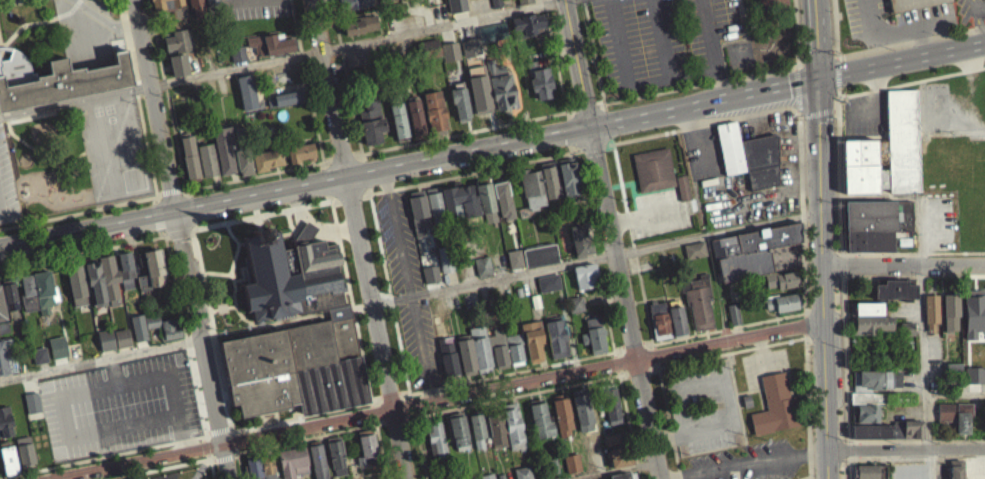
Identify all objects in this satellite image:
building: (233, 1)
building: (524, 1)
road: (78, 2)
building: (212, 2)
building: (352, 3)
building: (497, 3)
building: (772, 3)
building: (908, 3)
building: (982, 3)
road: (983, 3)
road: (21, 4)
road: (978, 5)
building: (171, 7)
building: (197, 7)
parking lot: (970, 11)
road: (67, 16)
parking lot: (893, 18)
road: (921, 22)
road: (979, 22)
road: (97, 23)
building: (361, 23)
building: (526, 24)
road: (440, 25)
road: (882, 29)
road: (23, 30)
building: (493, 30)
building: (358, 32)
road: (663, 38)
building: (492, 39)
parking lot: (663, 39)
building: (176, 40)
road: (818, 40)
building: (270, 43)
road: (125, 45)
road: (884, 45)
building: (430, 47)
road: (713, 50)
road: (593, 51)
building: (237, 52)
building: (268, 52)
building: (426, 56)
road: (837, 56)
building: (449, 58)
road: (556, 58)
building: (236, 61)
road: (901, 62)
building: (179, 63)
road: (578, 64)
road: (795, 66)
road: (234, 71)
road: (837, 71)
building: (177, 72)
road: (732, 77)
building: (540, 79)
road: (308, 80)
road: (911, 80)
traffic signals: (819, 82)
building: (500, 84)
road: (629, 84)
building: (55, 86)
road: (797, 88)
road: (134, 95)
road: (163, 95)
building: (477, 95)
building: (285, 97)
building: (461, 100)
road: (601, 103)
road: (705, 104)
parking lot: (935, 105)
building: (283, 106)
road: (605, 106)
road: (73, 107)
road: (586, 107)
road: (835, 107)
building: (435, 109)
road: (798, 110)
road: (78, 112)
road: (818, 112)
road: (567, 113)
parking lot: (863, 113)
building: (399, 114)
road: (802, 116)
building: (417, 117)
road: (39, 121)
building: (373, 121)
road: (608, 122)
road: (4, 124)
building: (397, 127)
traffic signals: (592, 129)
road: (570, 130)
road: (612, 139)
road: (609, 144)
building: (730, 146)
building: (225, 147)
road: (388, 147)
road: (573, 147)
road: (593, 147)
building: (243, 149)
building: (886, 149)
road: (578, 150)
building: (300, 151)
road: (29, 153)
road: (357, 154)
building: (189, 155)
road: (362, 156)
building: (267, 157)
building: (208, 158)
road: (341, 158)
building: (761, 159)
building: (299, 160)
road: (327, 161)
road: (324, 164)
road: (74, 165)
building: (265, 167)
building: (654, 168)
building: (242, 169)
road: (471, 171)
road: (365, 172)
road: (255, 175)
building: (569, 176)
building: (551, 178)
road: (327, 180)
parking lot: (7, 185)
road: (66, 186)
building: (683, 186)
building: (532, 187)
road: (369, 189)
road: (295, 191)
road: (187, 192)
road: (802, 193)
road: (186, 194)
building: (681, 195)
road: (171, 196)
road: (331, 196)
road: (871, 196)
road: (350, 197)
building: (486, 198)
building: (503, 198)
road: (156, 199)
road: (335, 199)
building: (460, 201)
building: (435, 203)
road: (152, 206)
road: (127, 208)
road: (191, 209)
building: (419, 211)
parking lot: (659, 212)
building: (878, 214)
parking lot: (941, 221)
road: (259, 222)
road: (155, 223)
road: (193, 226)
road: (293, 228)
road: (191, 230)
road: (922, 230)
road: (719, 232)
building: (868, 233)
road: (178, 234)
road: (294, 234)
road: (233, 235)
street lamp: (149, 238)
building: (581, 238)
road: (158, 239)
road: (176, 239)
road: (358, 239)
road: (166, 240)
road: (840, 240)
road: (150, 245)
building: (695, 248)
road: (634, 249)
building: (751, 249)
road: (151, 250)
road: (594, 250)
road: (94, 251)
road: (80, 252)
road: (111, 253)
building: (540, 253)
road: (130, 255)
road: (152, 255)
road: (98, 256)
road: (92, 257)
road: (112, 257)
building: (693, 257)
road: (117, 258)
building: (446, 258)
road: (38, 259)
road: (113, 259)
street lamp: (42, 260)
road: (75, 260)
building: (499, 260)
road: (99, 261)
building: (538, 262)
road: (39, 263)
road: (93, 265)
building: (483, 265)
road: (904, 265)
building: (513, 266)
road: (824, 266)
road: (18, 267)
road: (114, 267)
road: (242, 267)
road: (41, 268)
road: (76, 268)
road: (230, 271)
road: (41, 272)
building: (431, 272)
building: (291, 273)
road: (6, 274)
building: (481, 274)
building: (585, 274)
road: (19, 275)
road: (42, 275)
building: (123, 275)
road: (913, 275)
building: (149, 277)
road: (494, 278)
building: (782, 278)
road: (20, 280)
building: (429, 281)
building: (548, 281)
building: (106, 283)
road: (173, 285)
road: (166, 286)
road: (8, 287)
building: (92, 287)
road: (161, 287)
parking lot: (408, 287)
road: (408, 287)
building: (780, 287)
building: (74, 288)
building: (895, 288)
building: (518, 290)
building: (547, 290)
building: (42, 296)
building: (25, 297)
building: (893, 297)
building: (699, 299)
building: (7, 300)
building: (535, 300)
building: (782, 300)
building: (576, 302)
road: (627, 303)
road: (236, 305)
road: (223, 306)
road: (393, 306)
building: (866, 307)
building: (780, 310)
building: (574, 311)
building: (951, 311)
building: (733, 312)
building: (933, 312)
building: (1, 318)
building: (659, 318)
building: (677, 318)
road: (174, 320)
building: (732, 321)
building: (871, 323)
building: (973, 323)
road: (805, 324)
building: (907, 327)
building: (149, 328)
road: (182, 328)
road: (179, 329)
road: (174, 330)
building: (136, 333)
building: (3, 334)
building: (168, 334)
building: (556, 334)
building: (593, 334)
building: (906, 336)
road: (801, 337)
building: (533, 338)
road: (732, 340)
building: (119, 343)
building: (103, 345)
building: (498, 346)
building: (480, 347)
building: (515, 347)
road: (634, 347)
road: (184, 350)
road: (140, 352)
building: (55, 353)
building: (466, 353)
building: (448, 355)
road: (924, 356)
road: (122, 357)
road: (181, 357)
road: (106, 360)
building: (37, 361)
road: (72, 361)
road: (657, 361)
building: (5, 363)
building: (297, 366)
road: (99, 367)
road: (649, 367)
building: (954, 367)
road: (59, 369)
road: (119, 369)
road: (630, 371)
road: (512, 372)
road: (42, 374)
building: (973, 376)
building: (875, 378)
road: (49, 384)
road: (103, 385)
road: (26, 390)
road: (160, 391)
road: (528, 392)
road: (955, 393)
road: (725, 394)
building: (871, 396)
road: (371, 401)
road: (428, 402)
parking lot: (703, 406)
building: (29, 408)
building: (775, 409)
building: (945, 410)
building: (866, 411)
building: (611, 412)
road: (846, 415)
building: (582, 416)
building: (963, 416)
building: (865, 421)
road: (669, 422)
building: (561, 424)
road: (630, 426)
building: (4, 428)
building: (540, 428)
building: (889, 429)
road: (743, 431)
road: (72, 433)
road: (229, 433)
building: (512, 433)
road: (216, 435)
road: (418, 435)
road: (106, 437)
building: (495, 437)
road: (199, 438)
road: (204, 438)
building: (476, 438)
building: (874, 438)
building: (457, 440)
road: (179, 441)
road: (170, 445)
road: (200, 445)
building: (435, 448)
road: (847, 448)
road: (905, 449)
road: (202, 453)
building: (366, 453)
building: (22, 456)
road: (916, 456)
road: (141, 457)
parking lot: (742, 462)
building: (335, 463)
building: (616, 464)
road: (746, 464)
road: (149, 465)
building: (316, 465)
road: (827, 465)
building: (7, 466)
building: (291, 467)
road: (847, 468)
road: (50, 469)
road: (612, 469)
building: (571, 470)
road: (30, 471)
building: (259, 471)
building: (871, 471)
building: (954, 475)
road: (31, 476)
road: (50, 476)
building: (521, 476)
road: (9, 478)
building: (632, 478)

